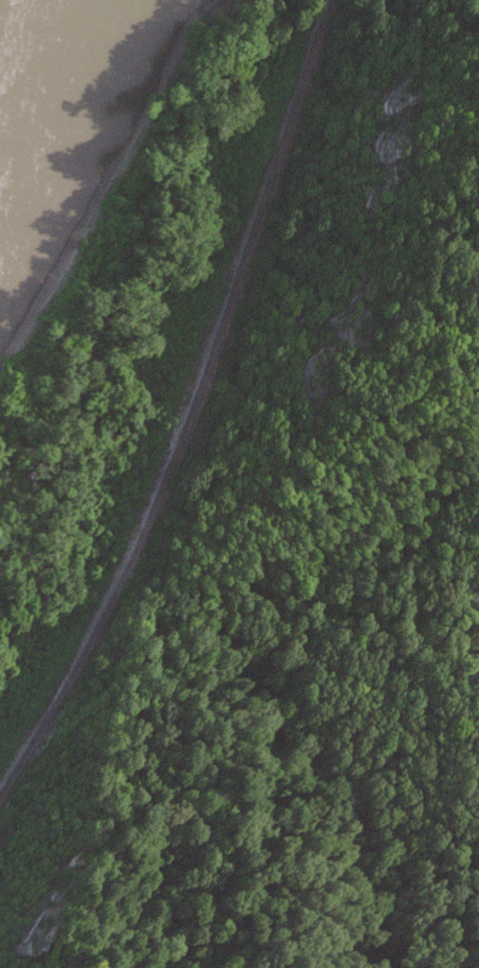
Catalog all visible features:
railway: (192, 410)

